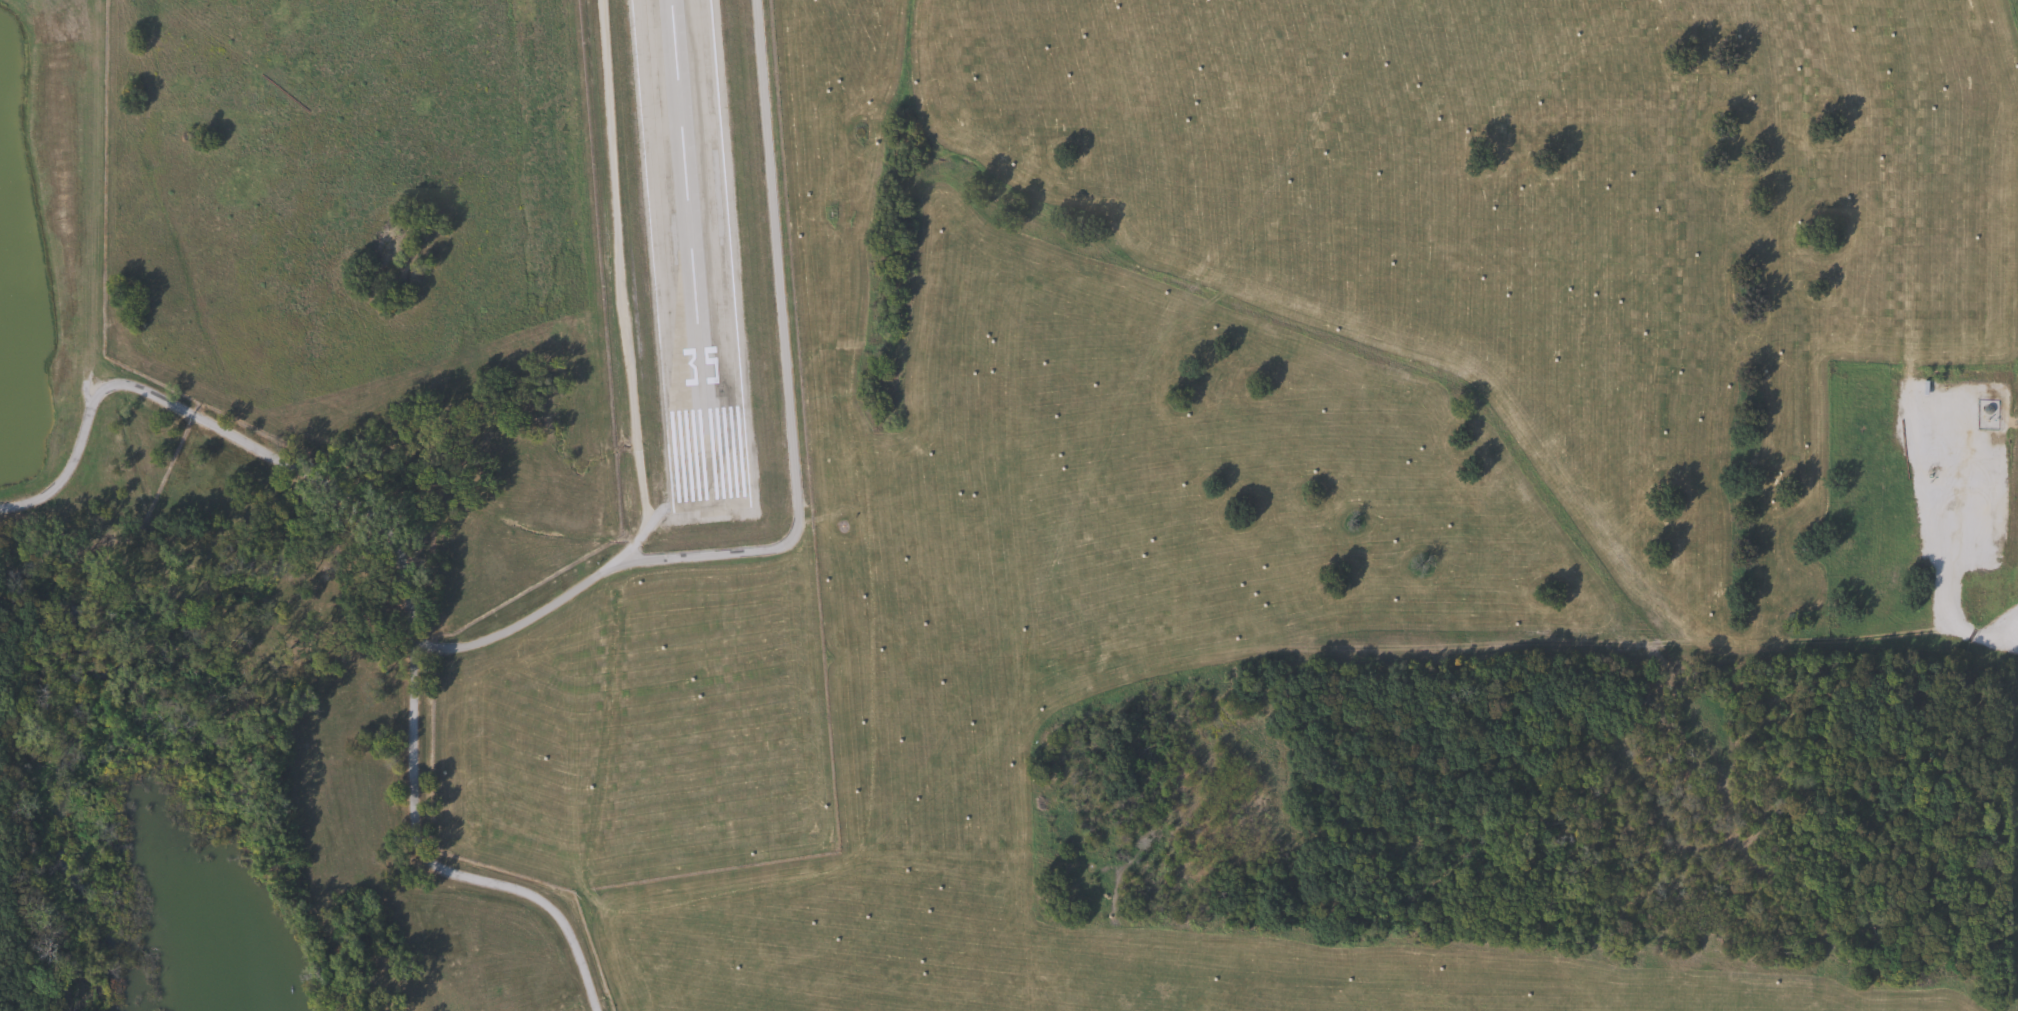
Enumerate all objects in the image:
airport runway: (697, 256)
road: (630, 401)
airport: (708, 429)
road: (405, 569)

